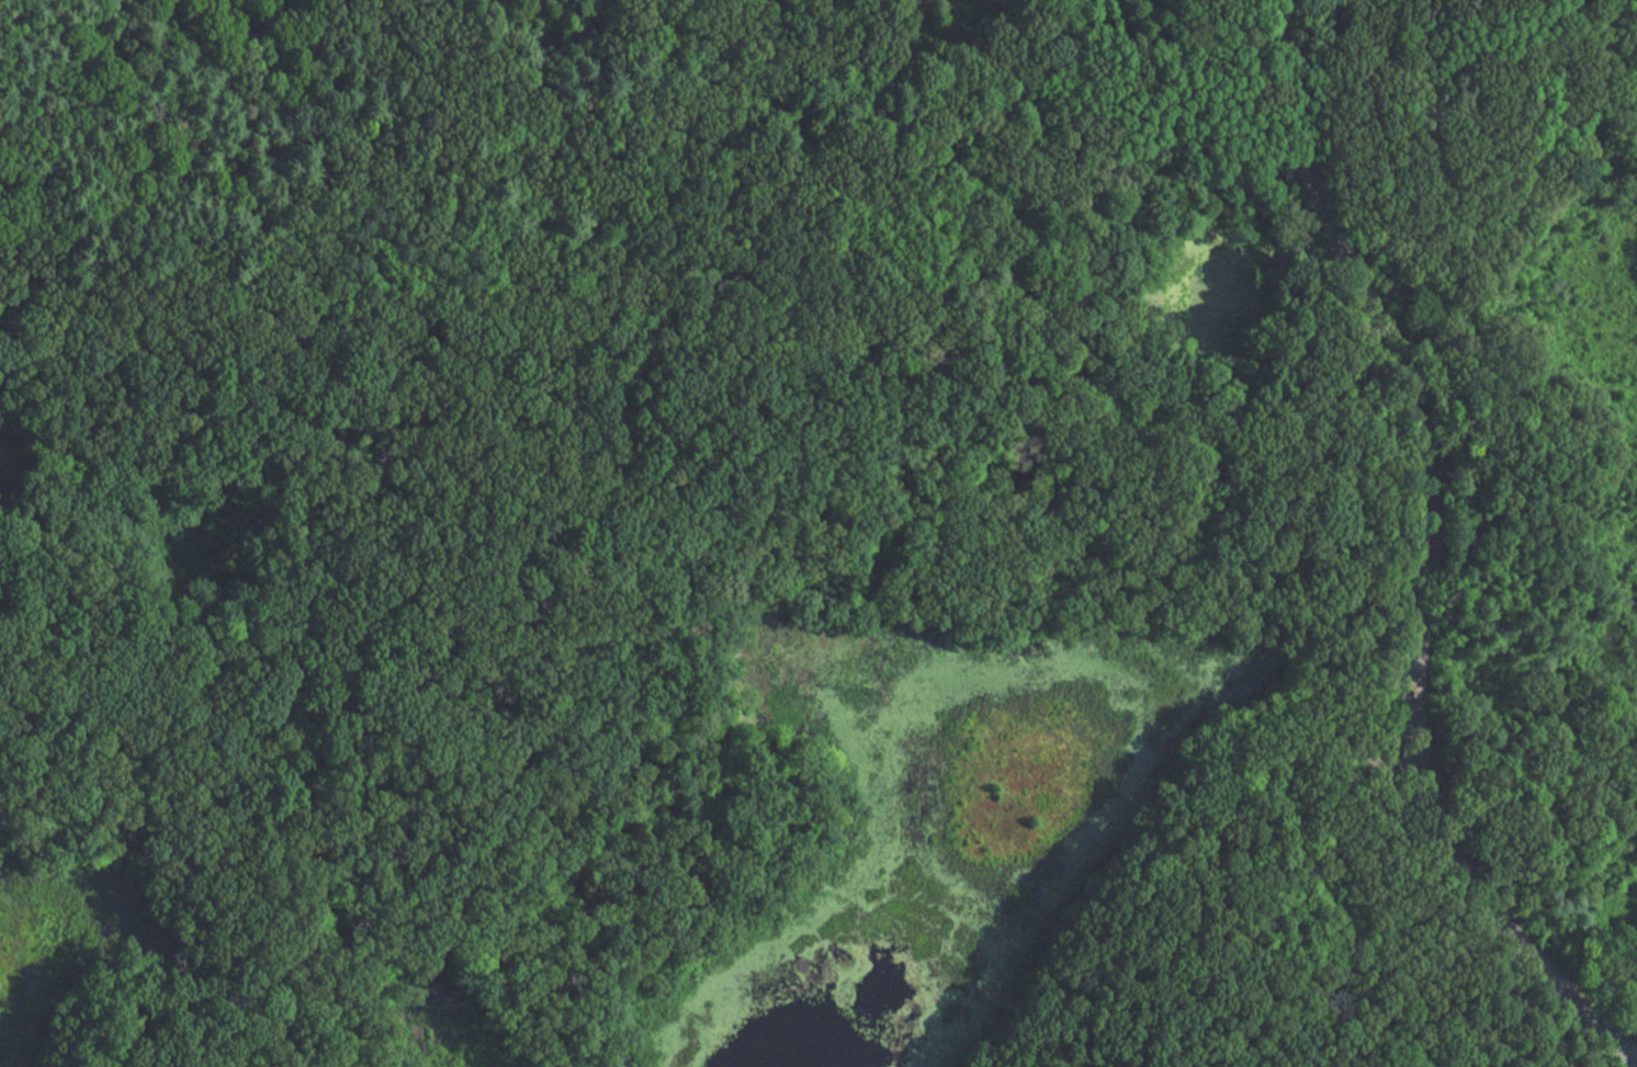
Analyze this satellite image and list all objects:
road: (1457, 136)
road: (1366, 234)
road: (1376, 344)
road: (1556, 397)
road: (1200, 478)
road: (834, 502)
park: (818, 533)
road: (413, 656)
toll booth: (1411, 699)
road: (1306, 700)
parking lot: (1376, 770)
road: (269, 832)
road: (1486, 899)

